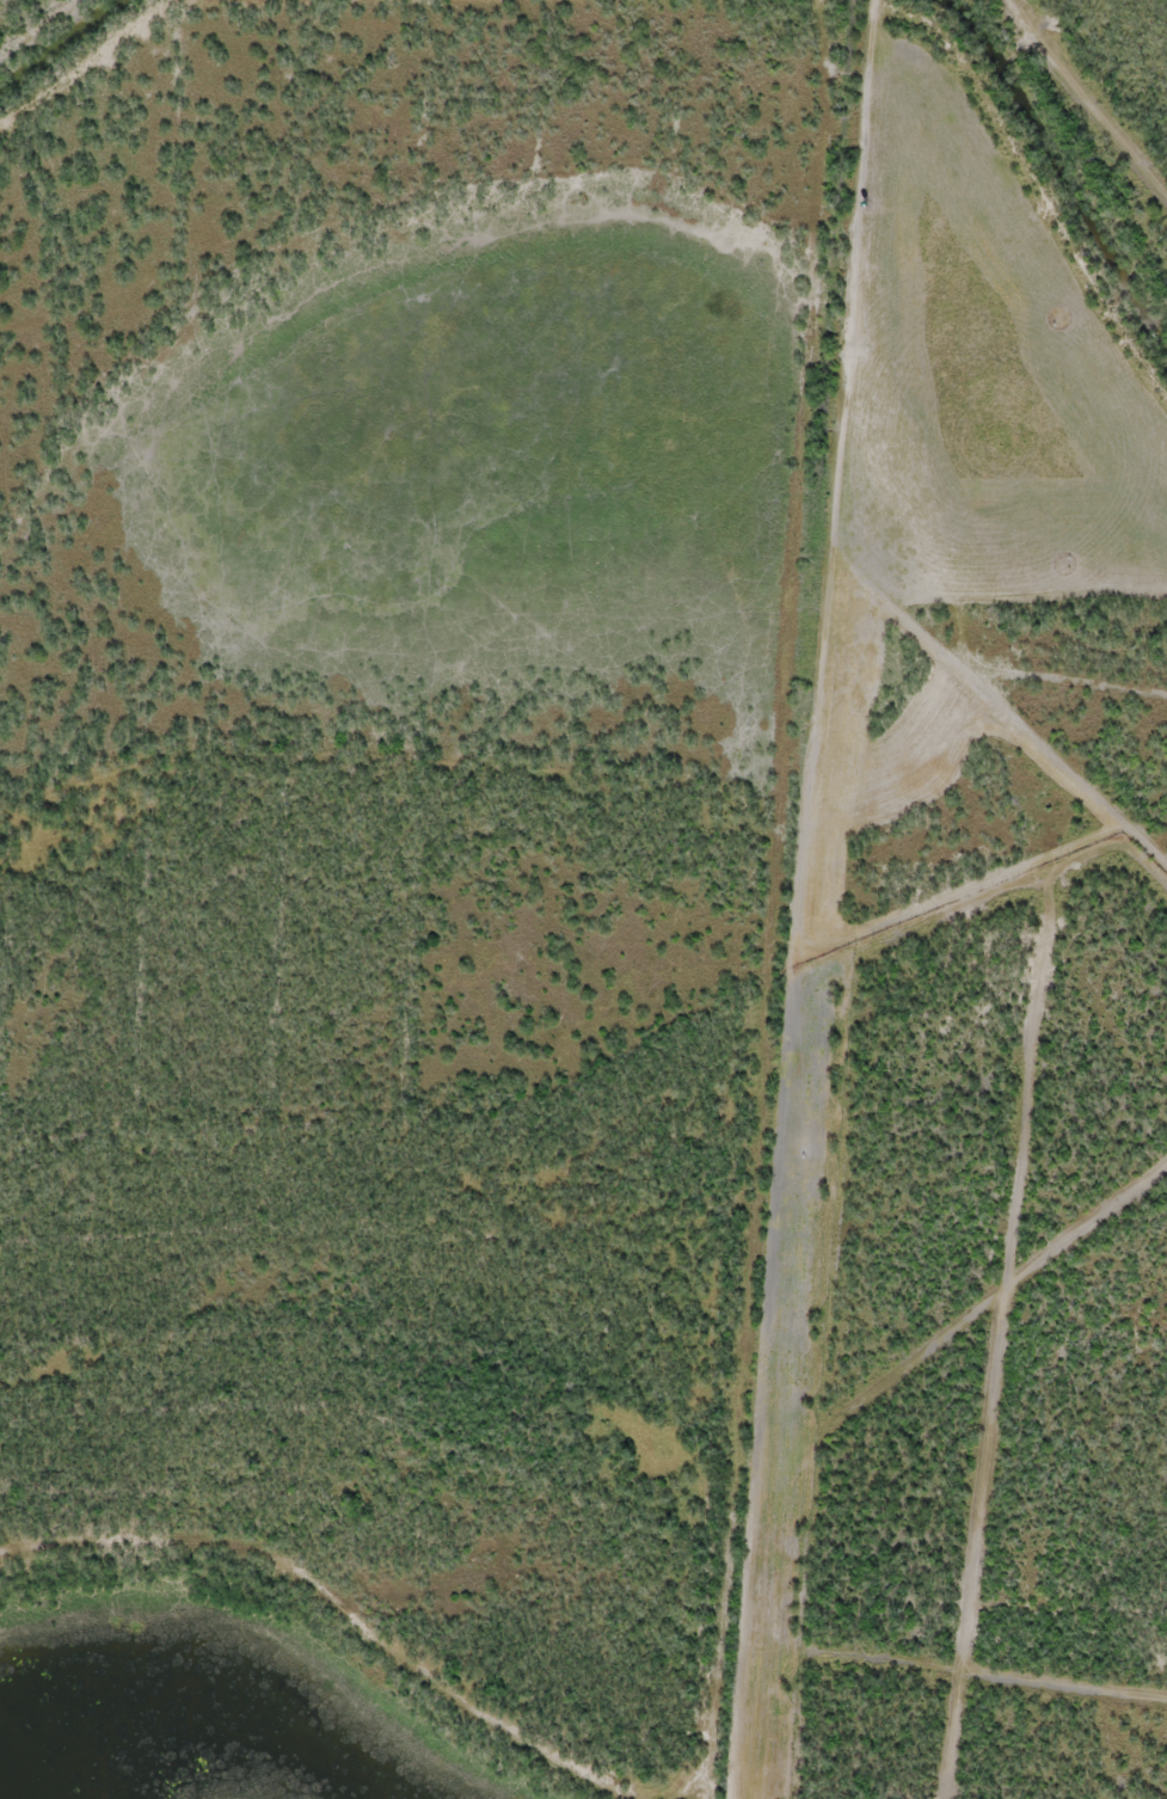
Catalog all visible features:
road: (769, 899)
road: (430, 1596)
river: (202, 1707)

